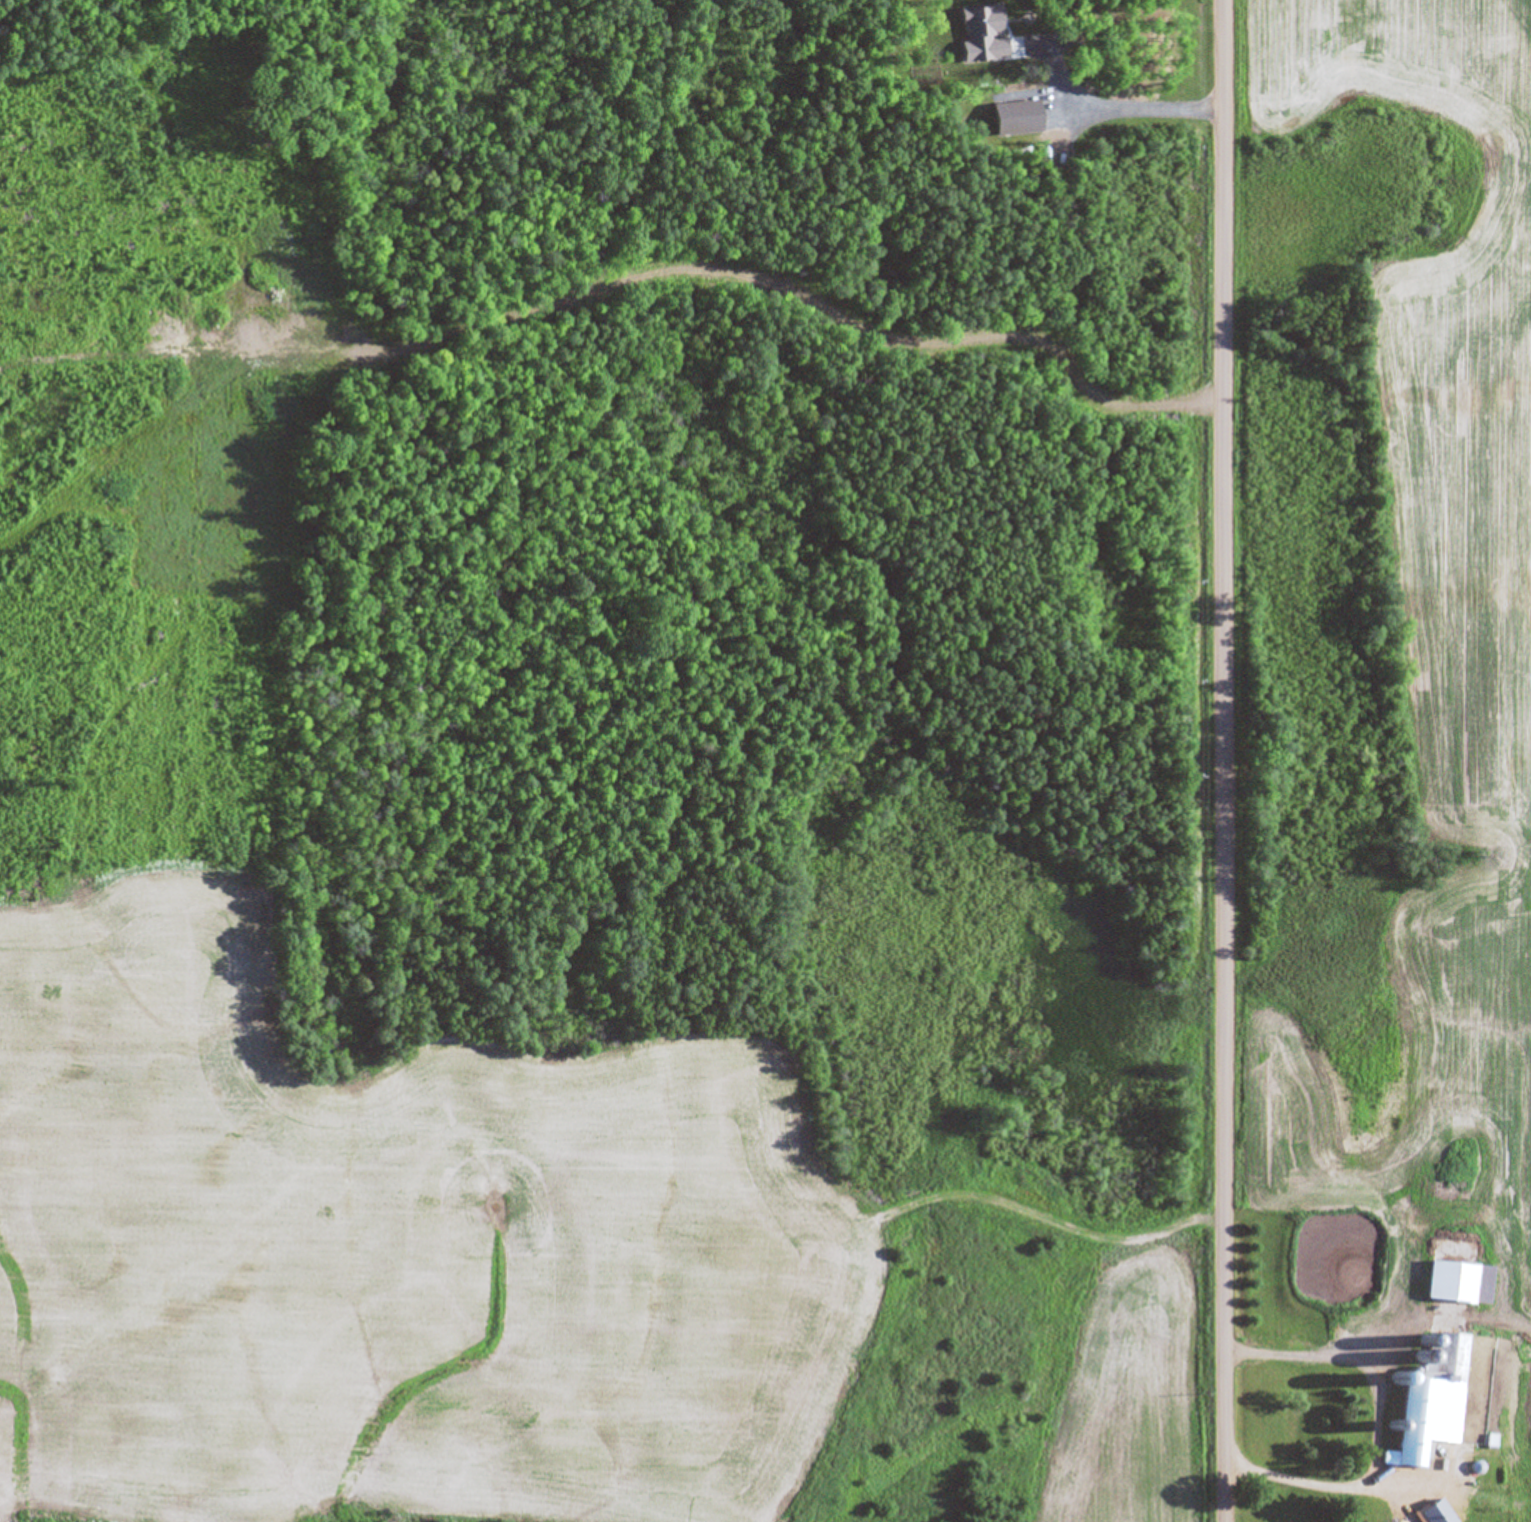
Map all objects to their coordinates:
road: (1216, 761)
building: (1445, 1283)
building: (1427, 1406)
building: (1430, 1513)

